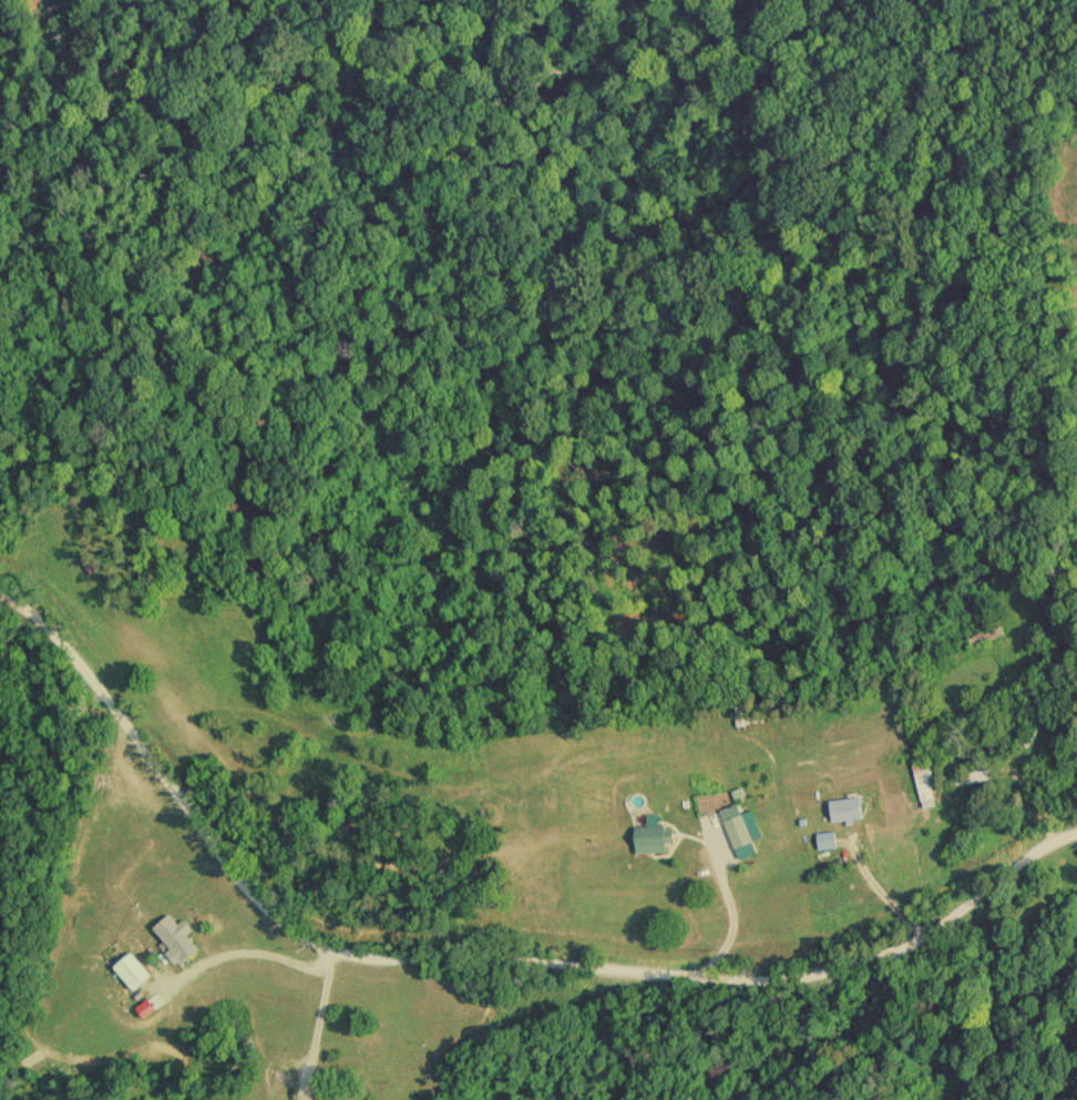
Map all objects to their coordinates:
road: (265, 954)
road: (478, 955)
road: (319, 1017)

